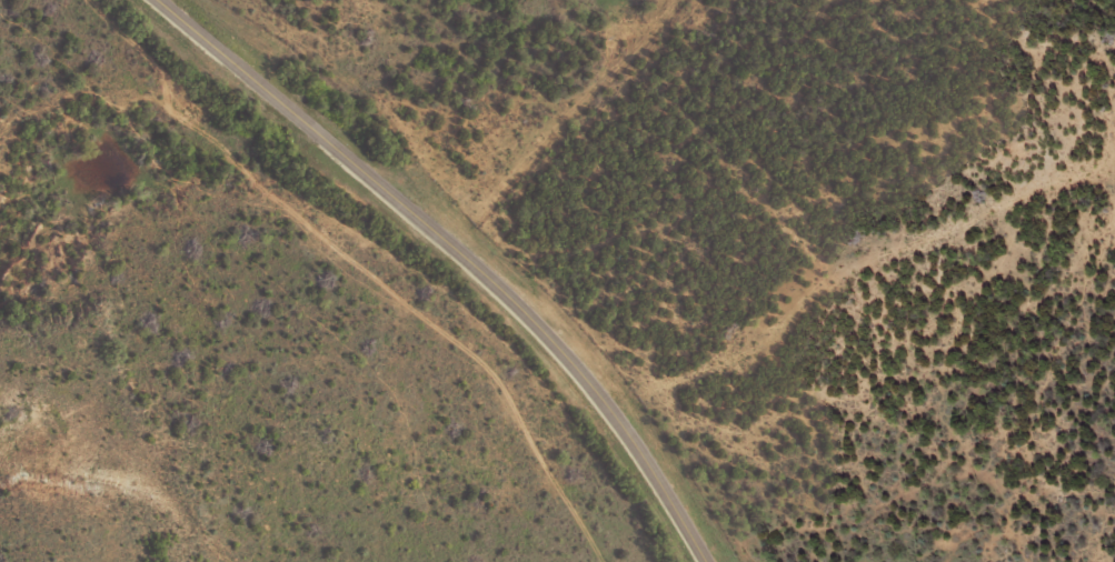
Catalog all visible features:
road: (457, 254)

